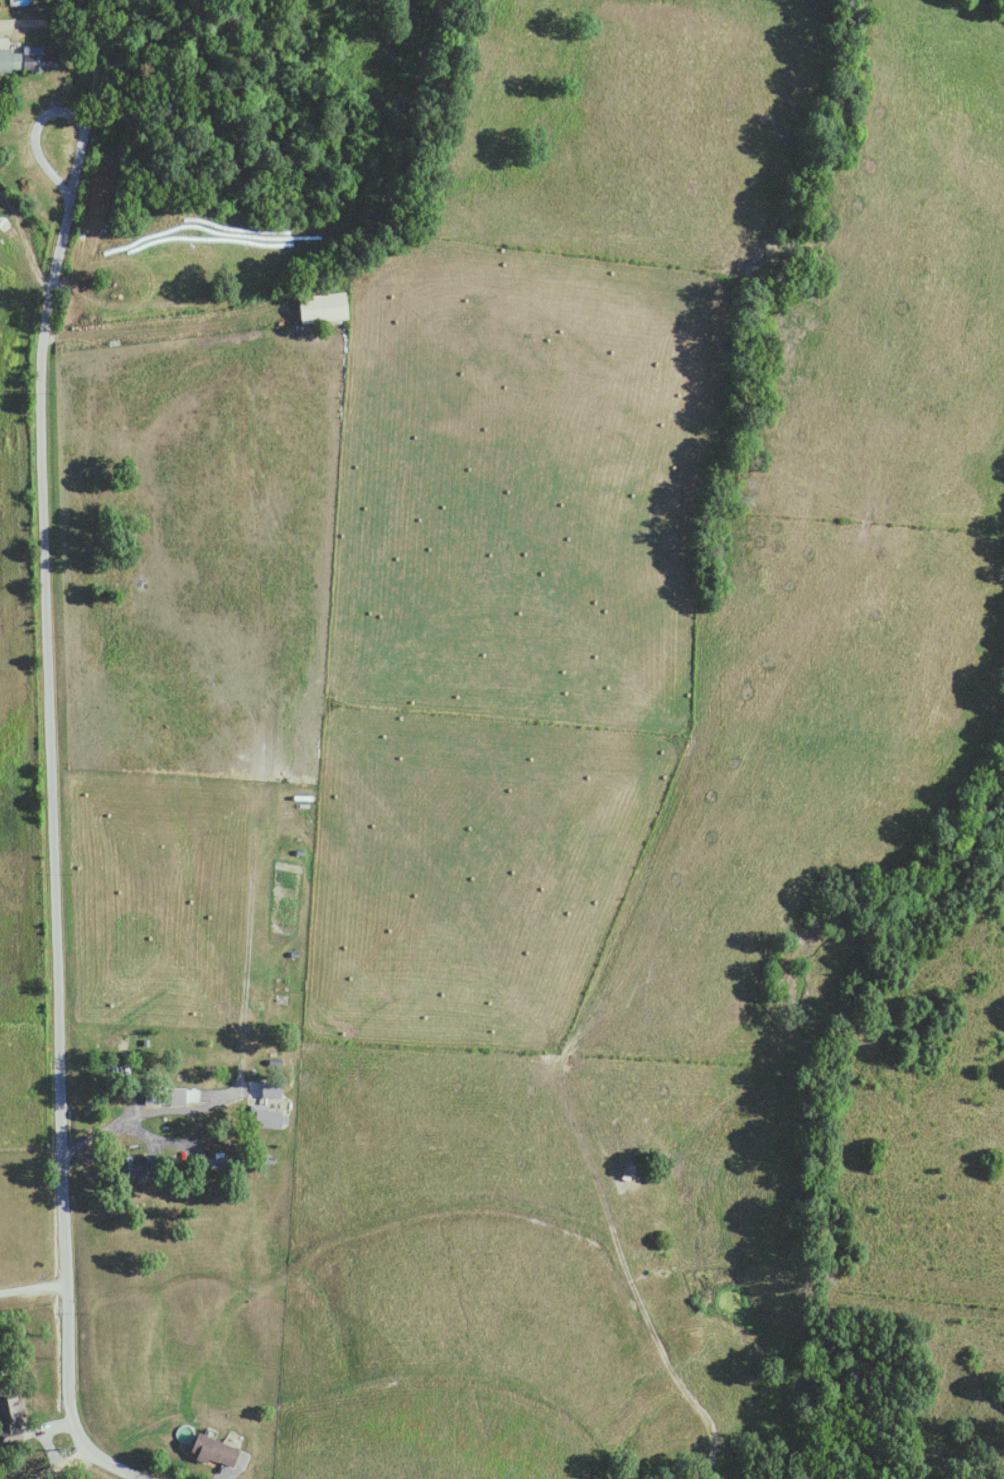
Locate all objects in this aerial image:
building: (30, 62)
road: (31, 131)
building: (326, 308)
road: (160, 328)
road: (46, 728)
building: (119, 1076)
building: (179, 1097)
road: (119, 1119)
road: (33, 1291)
building: (12, 1421)
building: (215, 1451)
road: (57, 1463)

